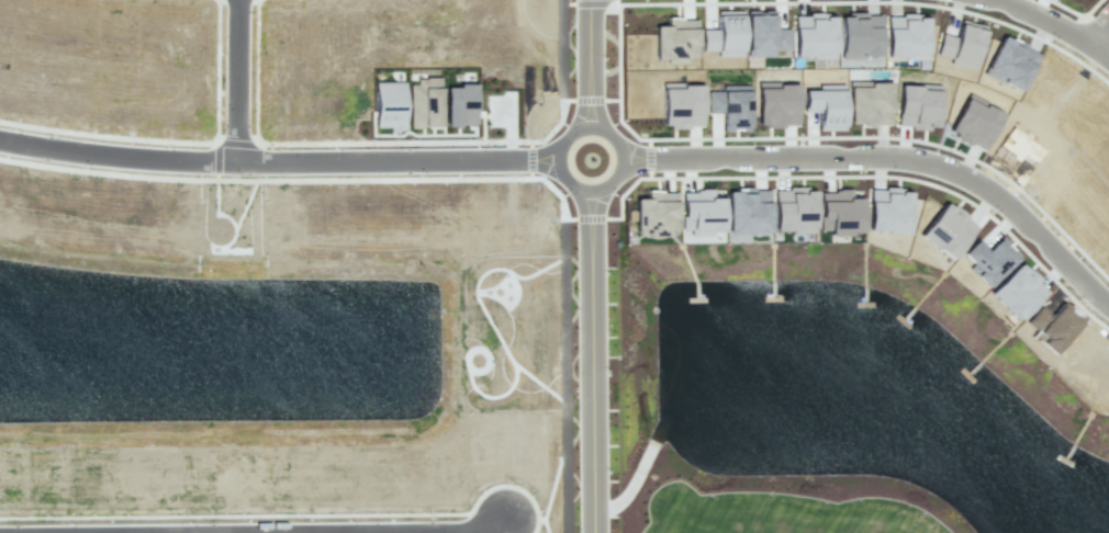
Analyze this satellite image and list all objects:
road: (1037, 24)
building: (763, 34)
building: (859, 35)
building: (906, 35)
building: (814, 36)
building: (722, 38)
building: (675, 39)
building: (961, 45)
road: (1102, 48)
building: (1010, 63)
road: (591, 64)
road: (233, 80)
building: (867, 101)
building: (424, 103)
building: (776, 103)
building: (390, 104)
building: (459, 104)
building: (682, 104)
building: (729, 105)
building: (825, 105)
building: (917, 105)
building: (974, 122)
road: (600, 128)
road: (115, 152)
road: (394, 159)
road: (892, 160)
building: (793, 209)
building: (887, 209)
building: (701, 212)
building: (747, 212)
building: (839, 212)
building: (656, 213)
building: (946, 230)
building: (987, 260)
building: (1017, 291)
building: (1052, 327)
road: (596, 361)

